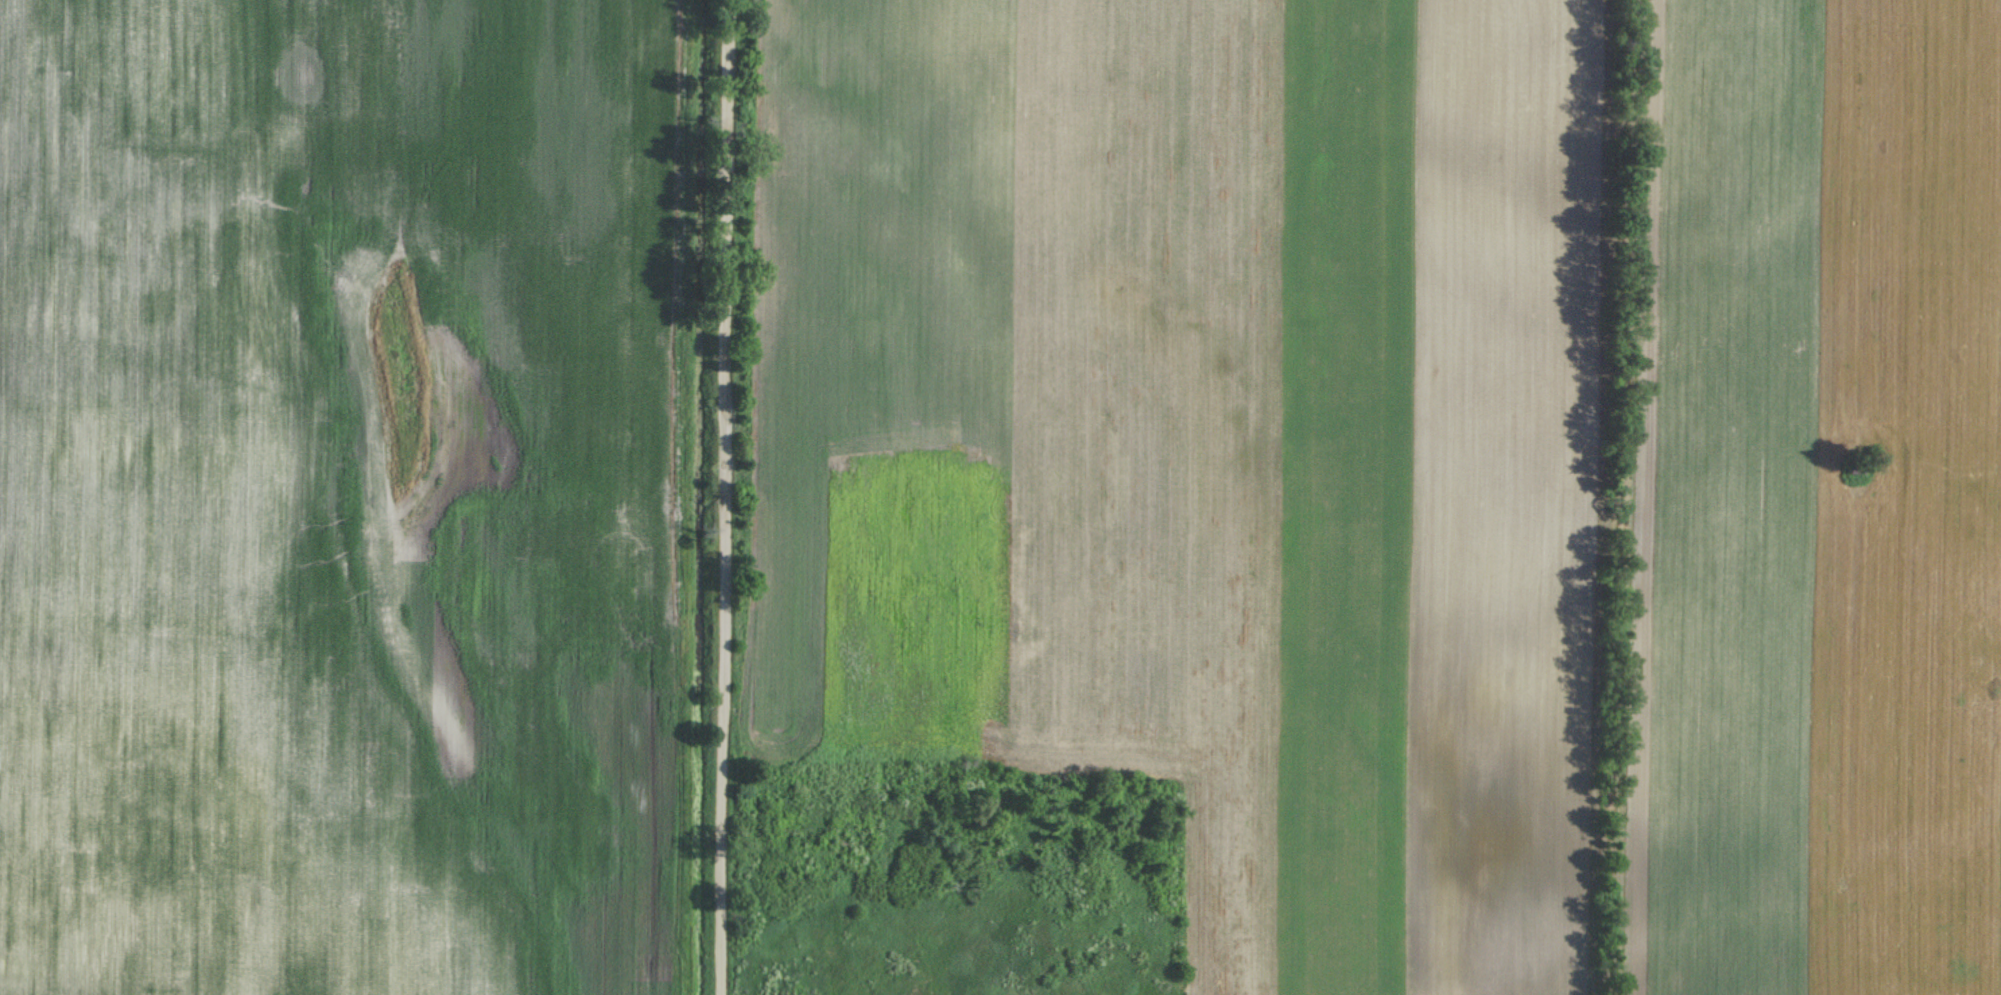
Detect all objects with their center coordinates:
road: (732, 497)

